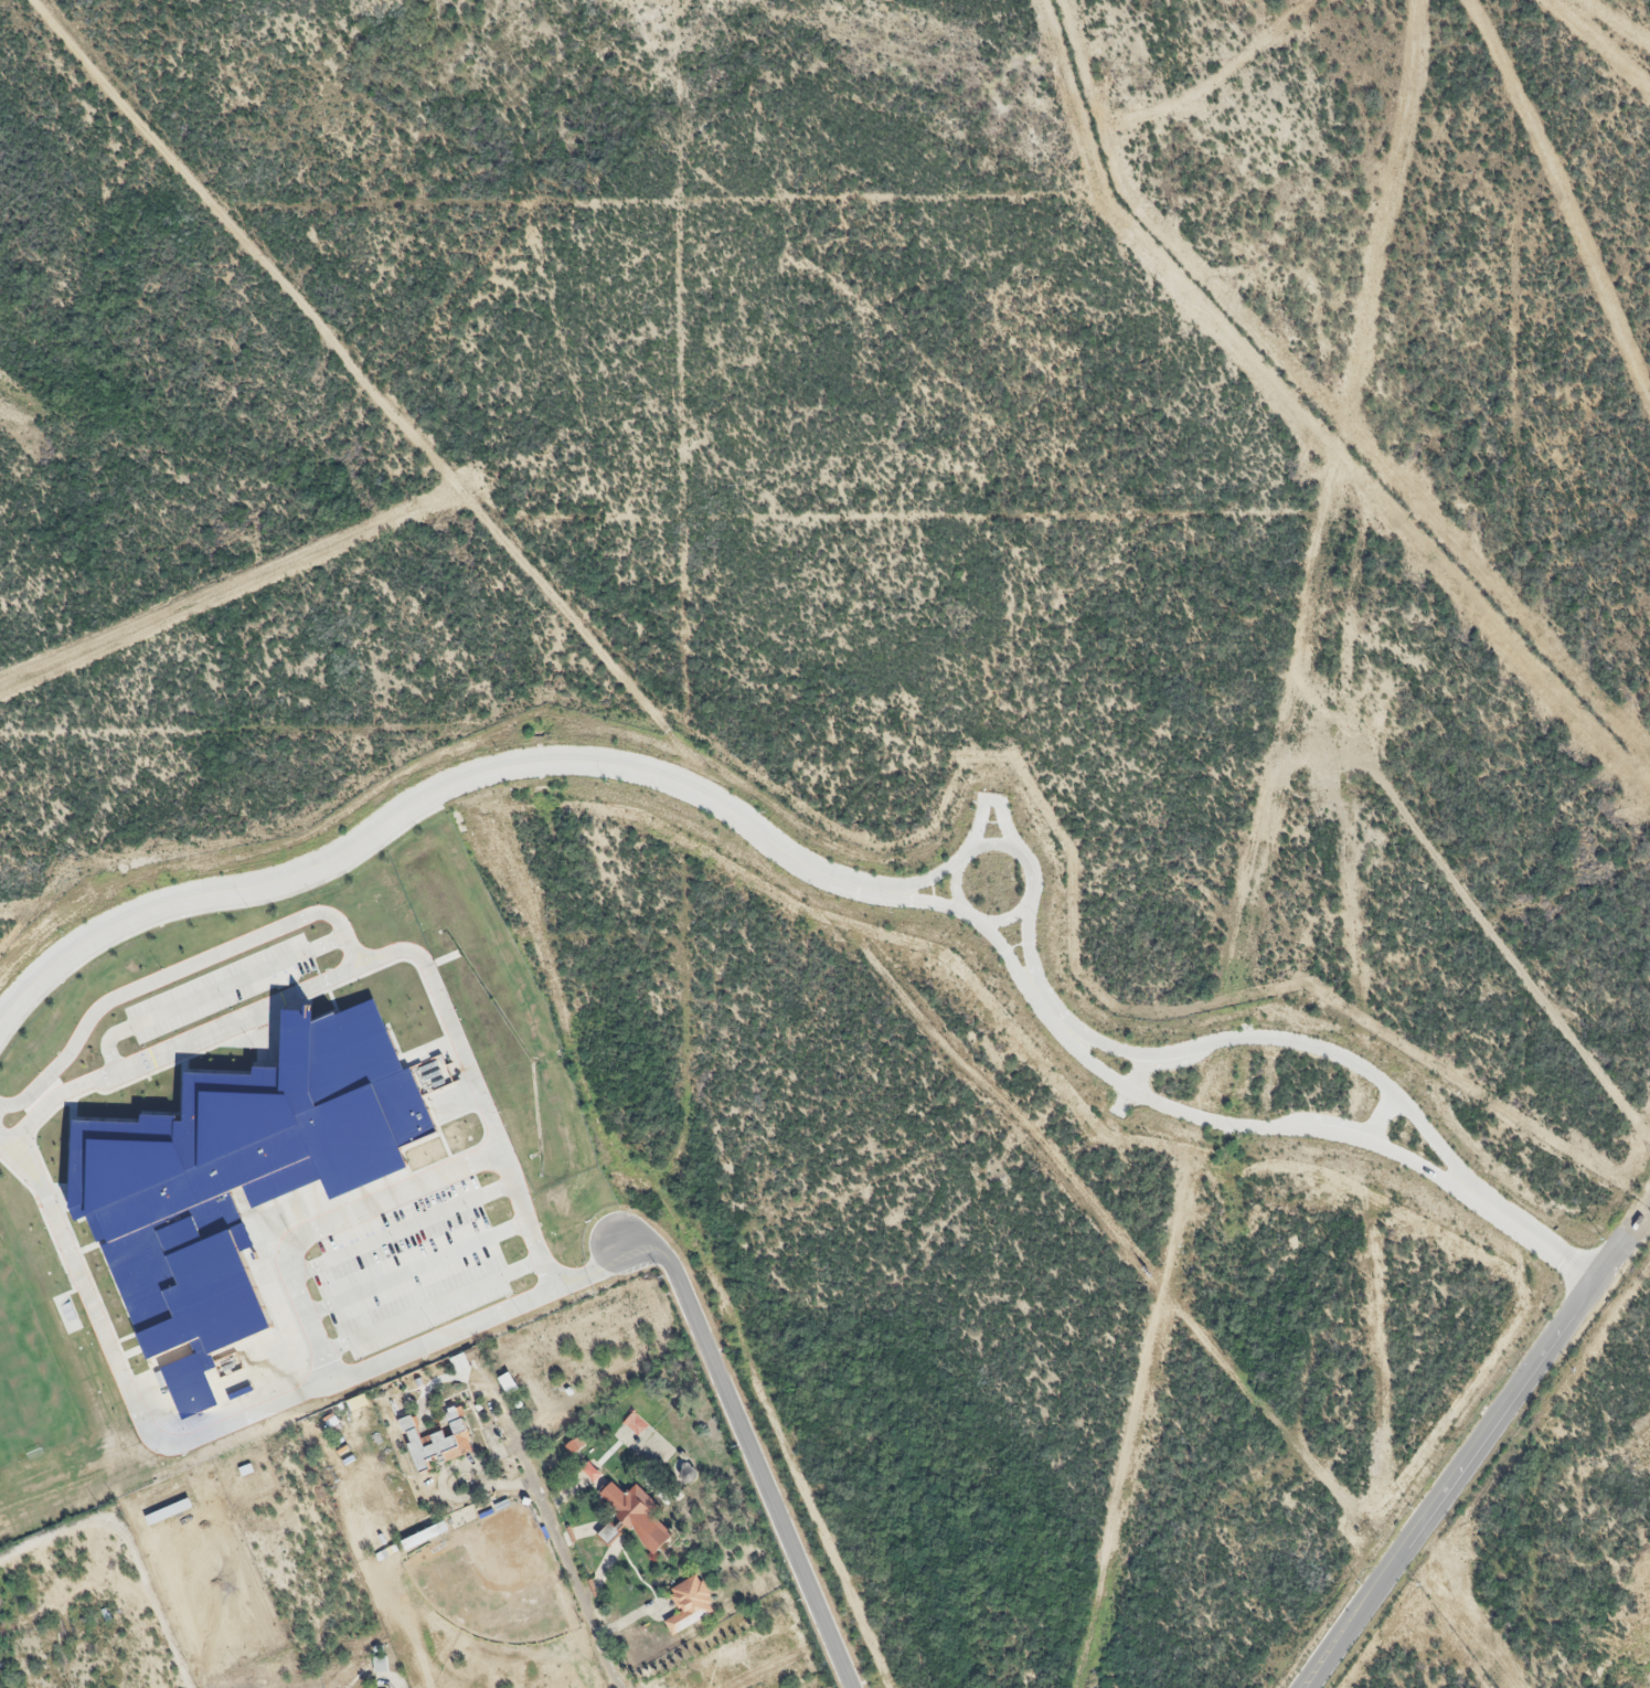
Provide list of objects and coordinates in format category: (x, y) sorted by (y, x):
road: (981, 815)
road: (1000, 817)
road: (767, 841)
road: (337, 856)
road: (920, 880)
road: (861, 887)
road: (955, 895)
road: (922, 899)
road: (1028, 936)
road: (1005, 951)
road: (417, 957)
road: (174, 970)
road: (210, 991)
road: (1045, 1005)
road: (1292, 1040)
road: (1255, 1126)
road: (13, 1130)
building: (227, 1178)
road: (321, 1222)
road: (398, 1232)
road: (1534, 1234)
parking lot: (416, 1262)
road: (414, 1270)
road: (428, 1304)
park: (43, 1388)
road: (205, 1429)
road: (1479, 1440)
building: (429, 1446)
road: (752, 1452)
building: (636, 1515)
building: (608, 1533)
road: (560, 1561)
building: (689, 1604)
building: (22, 1648)
building: (381, 1666)

